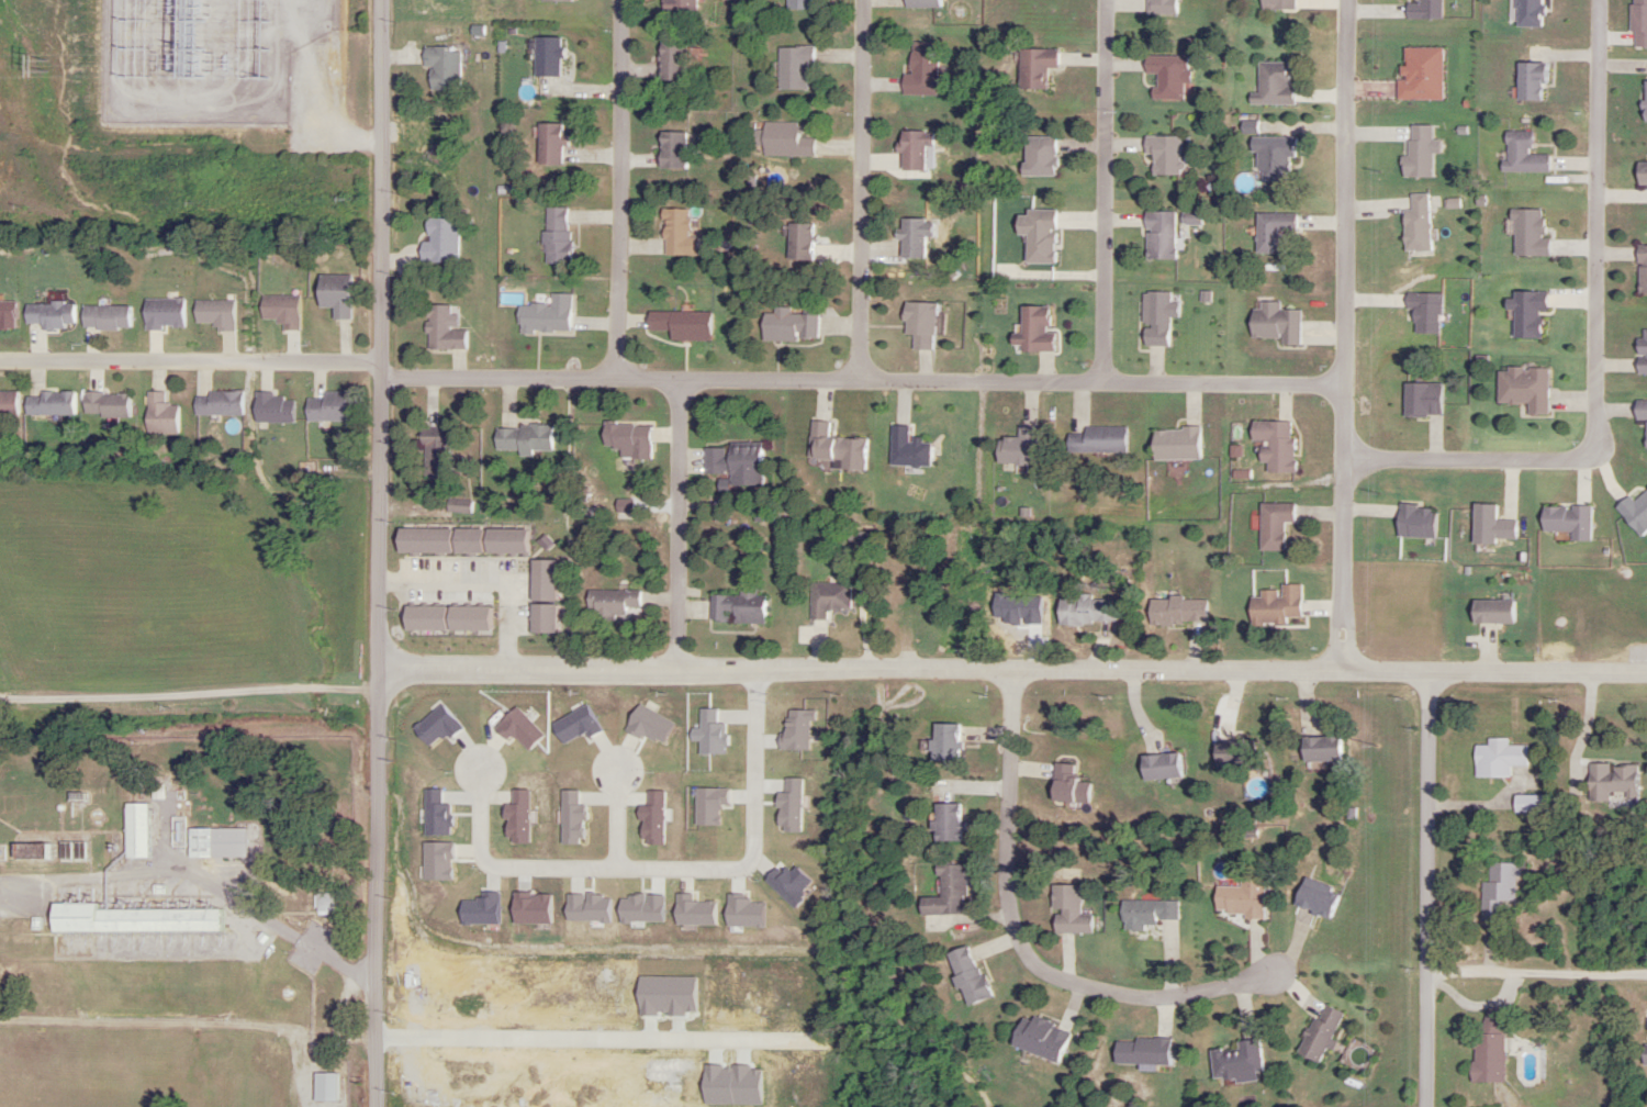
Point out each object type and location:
building: (797, 3)
building: (921, 3)
building: (1279, 4)
building: (677, 7)
building: (1158, 7)
building: (1527, 13)
power substation: (208, 57)
building: (546, 57)
building: (671, 63)
building: (441, 67)
building: (1034, 67)
building: (792, 68)
building: (921, 68)
building: (1420, 74)
building: (1167, 76)
building: (1528, 81)
building: (1271, 83)
building: (1644, 102)
building: (782, 141)
building: (548, 144)
building: (670, 150)
building: (915, 152)
building: (1521, 154)
building: (1162, 156)
building: (1037, 157)
building: (1271, 158)
building: (1640, 174)
road: (498, 187)
road: (619, 189)
road: (1102, 189)
building: (1415, 224)
road: (1593, 224)
building: (1271, 231)
building: (675, 234)
building: (1526, 234)
building: (1037, 235)
building: (1157, 235)
building: (554, 236)
building: (912, 237)
building: (438, 242)
building: (798, 242)
building: (1642, 269)
building: (333, 294)
building: (161, 313)
building: (5, 314)
building: (47, 314)
building: (1526, 314)
building: (545, 316)
building: (104, 317)
building: (1156, 317)
building: (1274, 323)
building: (918, 325)
building: (675, 326)
building: (787, 327)
building: (1032, 329)
building: (440, 331)
road: (1347, 338)
building: (1642, 351)
road: (191, 359)
road: (1101, 379)
road: (809, 383)
building: (1523, 388)
building: (47, 403)
building: (217, 403)
building: (8, 404)
building: (104, 404)
building: (327, 406)
building: (158, 414)
building: (1640, 414)
building: (522, 438)
building: (626, 439)
building: (1095, 439)
building: (824, 444)
building: (1175, 444)
building: (1273, 444)
building: (1017, 447)
building: (906, 449)
road: (1469, 451)
building: (430, 452)
building: (730, 460)
building: (457, 506)
building: (1635, 511)
building: (1566, 522)
road: (572, 525)
building: (1273, 525)
building: (1490, 526)
road: (681, 527)
road: (789, 528)
road: (381, 553)
building: (827, 599)
building: (609, 603)
building: (1275, 606)
building: (737, 607)
building: (1084, 611)
building: (1176, 611)
building: (1491, 612)
road: (1012, 677)
road: (191, 695)
building: (942, 743)
building: (1319, 749)
building: (1232, 753)
building: (1497, 759)
building: (1159, 767)
building: (1066, 786)
building: (1527, 804)
road: (627, 821)
building: (944, 823)
building: (133, 831)
building: (213, 843)
road: (664, 881)
building: (1497, 891)
building: (945, 893)
road: (1431, 893)
building: (1239, 898)
building: (1315, 899)
building: (1067, 912)
building: (1144, 914)
building: (130, 920)
road: (1026, 937)
road: (1537, 970)
building: (965, 975)
building: (1491, 1026)
building: (1318, 1035)
building: (1038, 1040)
road: (607, 1045)
building: (1141, 1051)
building: (1643, 1055)
building: (1234, 1061)
building: (322, 1087)

